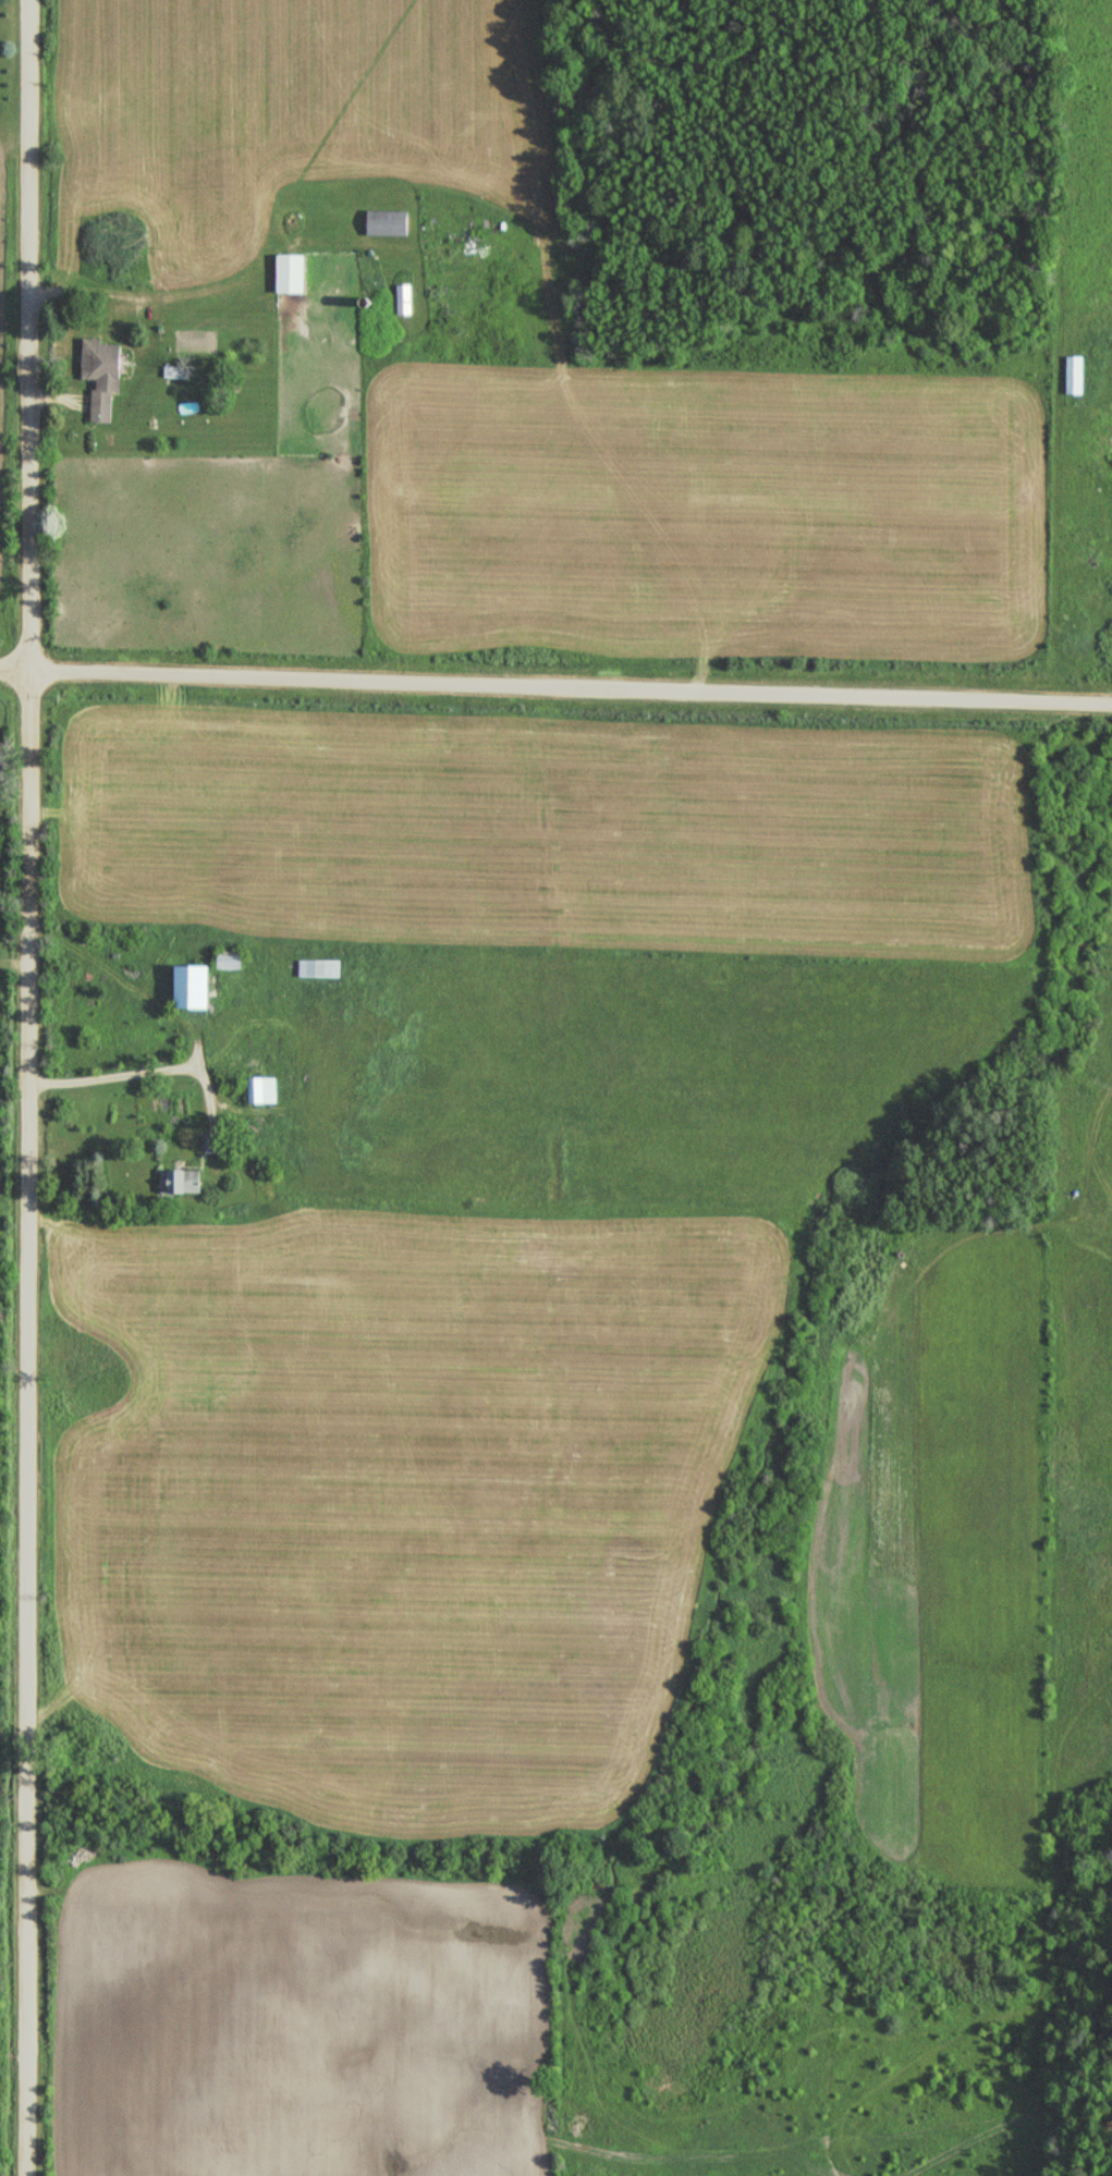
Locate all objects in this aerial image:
building: (390, 223)
building: (407, 299)
building: (107, 375)
building: (1078, 375)
road: (555, 686)
building: (322, 968)
building: (199, 988)
road: (32, 1088)
building: (266, 1090)
building: (217, 1144)
building: (183, 1182)

